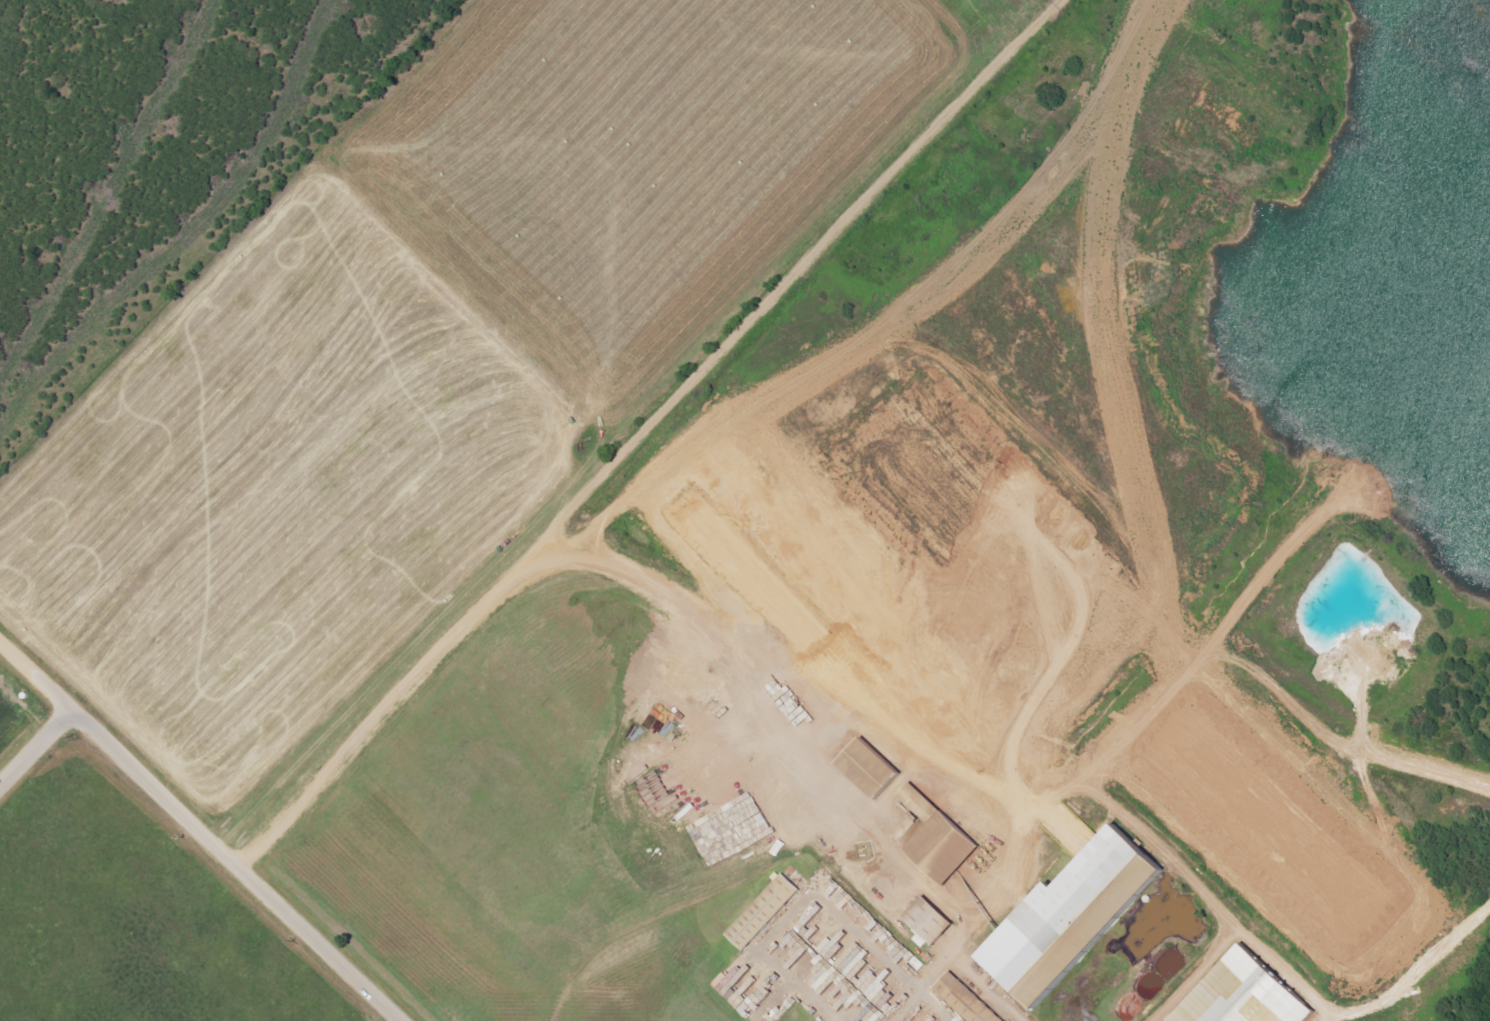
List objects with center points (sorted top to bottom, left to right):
road: (1045, 341)
road: (771, 393)
road: (646, 433)
road: (1230, 721)
road: (37, 751)
road: (809, 763)
building: (878, 767)
building: (923, 802)
road: (201, 830)
building: (731, 831)
building: (947, 847)
building: (766, 910)
building: (1083, 916)
building: (934, 919)
road: (888, 954)
road: (765, 957)
building: (842, 969)
road: (1420, 970)
road: (967, 975)
building: (733, 979)
building: (1251, 994)
building: (970, 1000)
building: (906, 1020)

